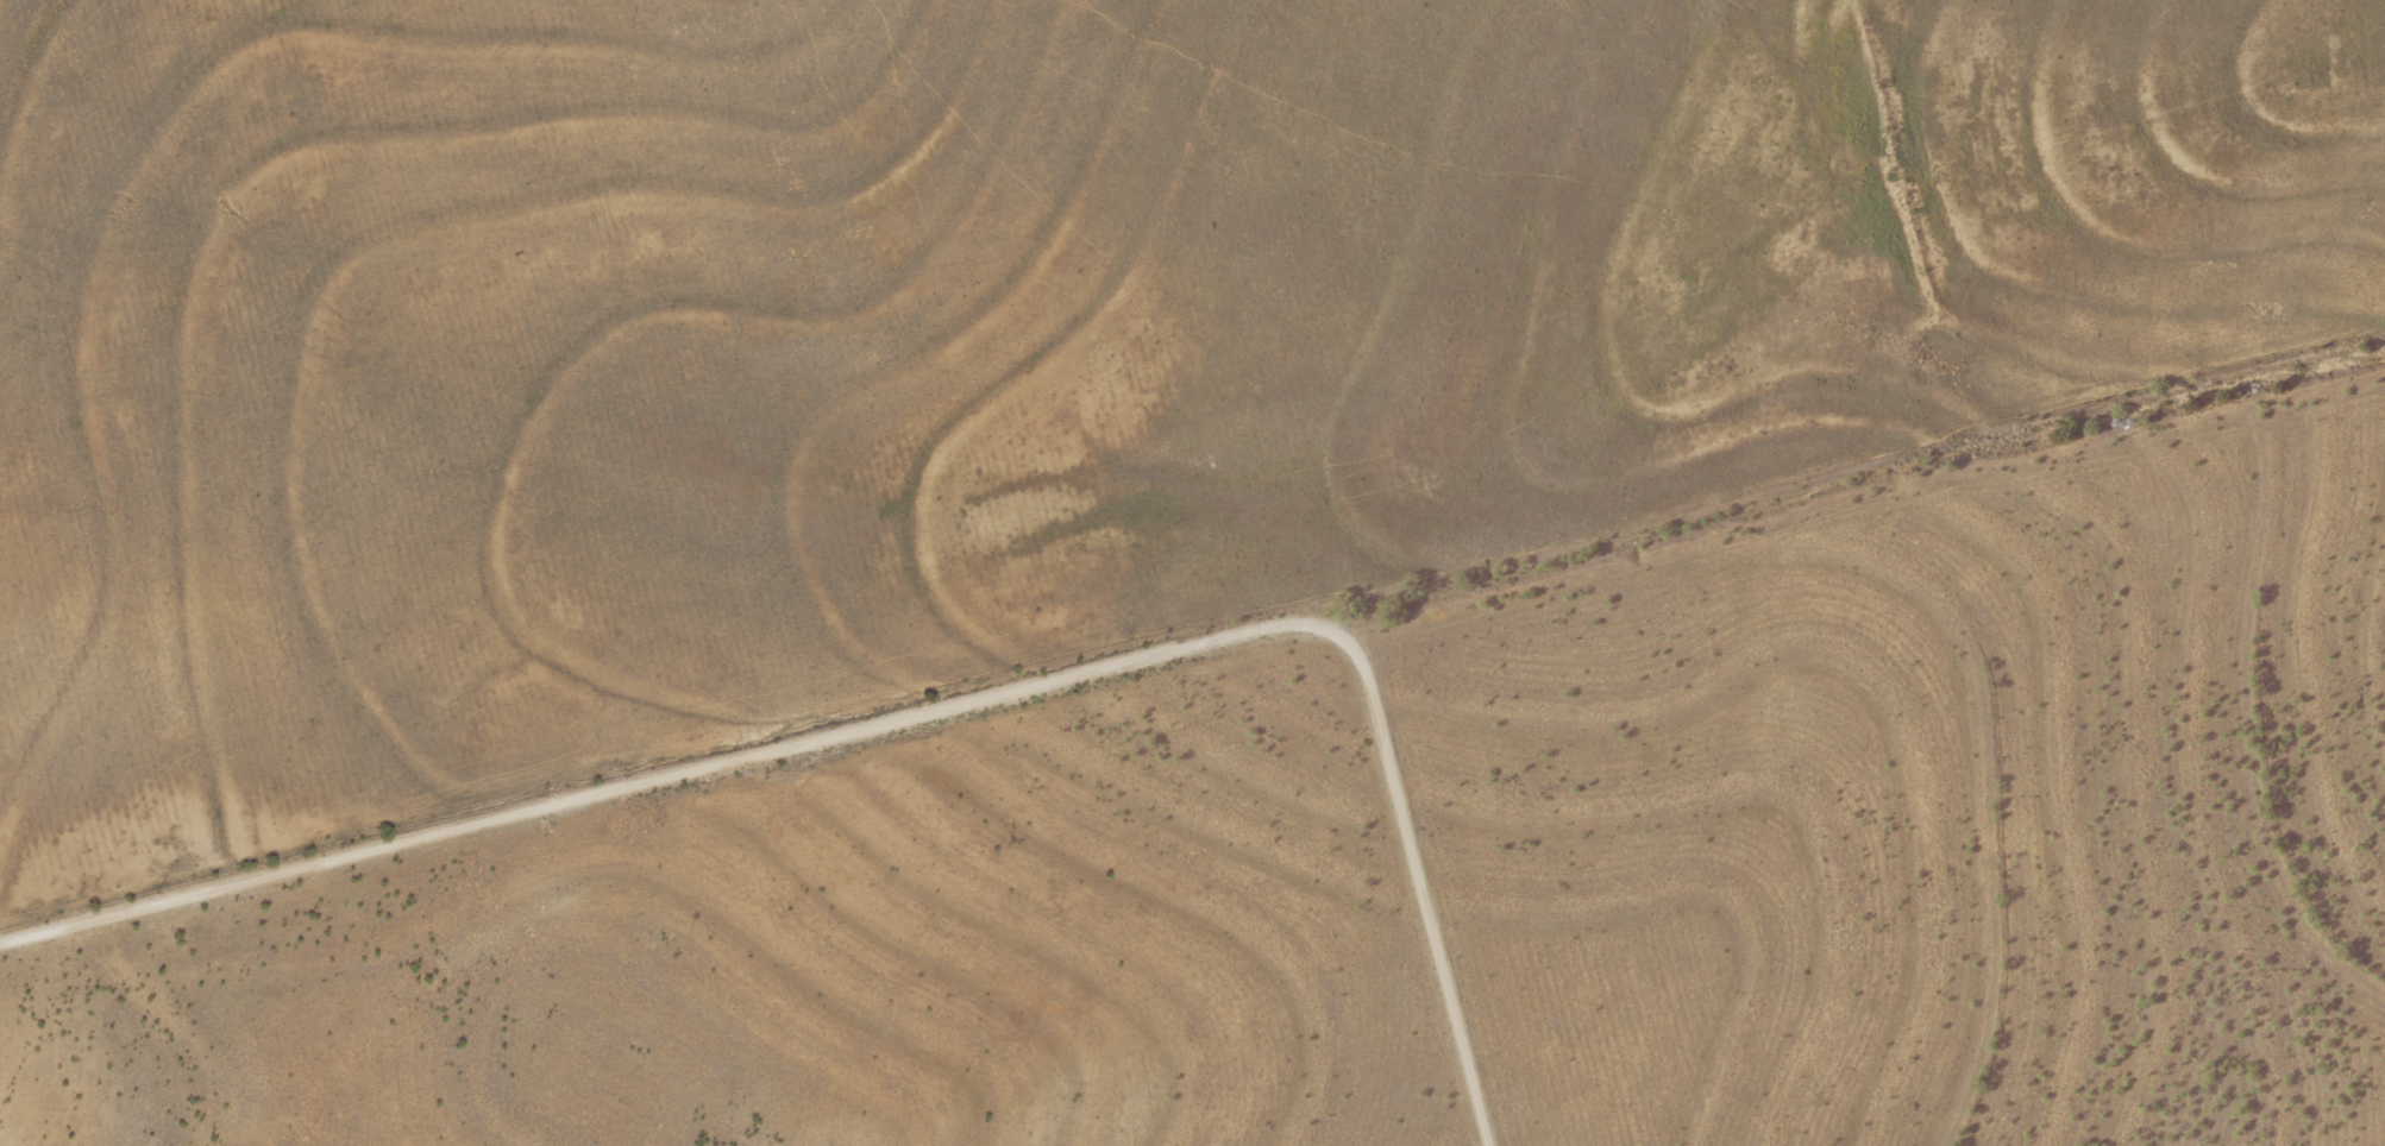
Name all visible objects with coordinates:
road: (933, 709)

